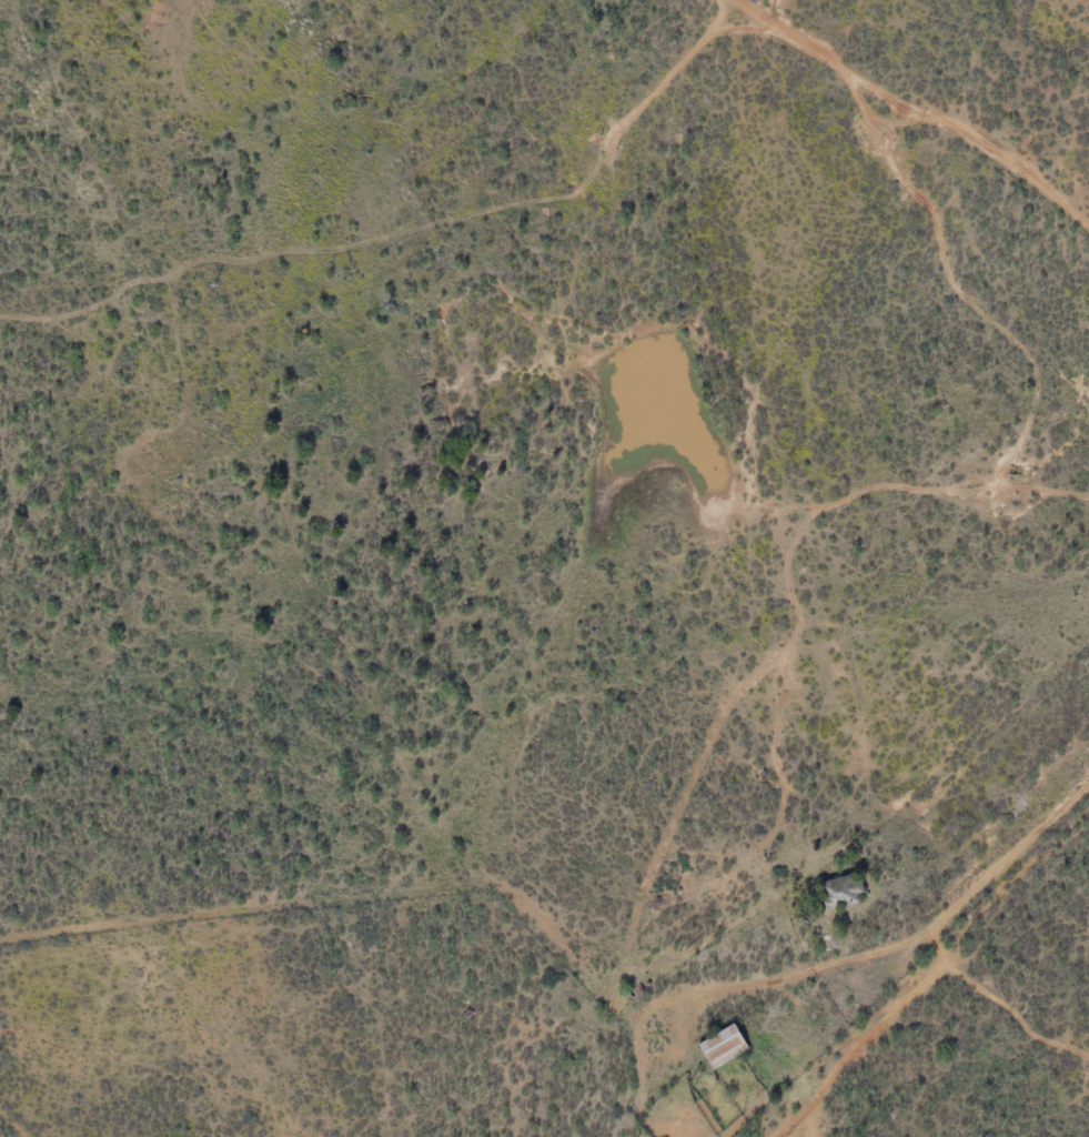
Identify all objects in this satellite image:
building: (840, 892)
building: (723, 1046)

